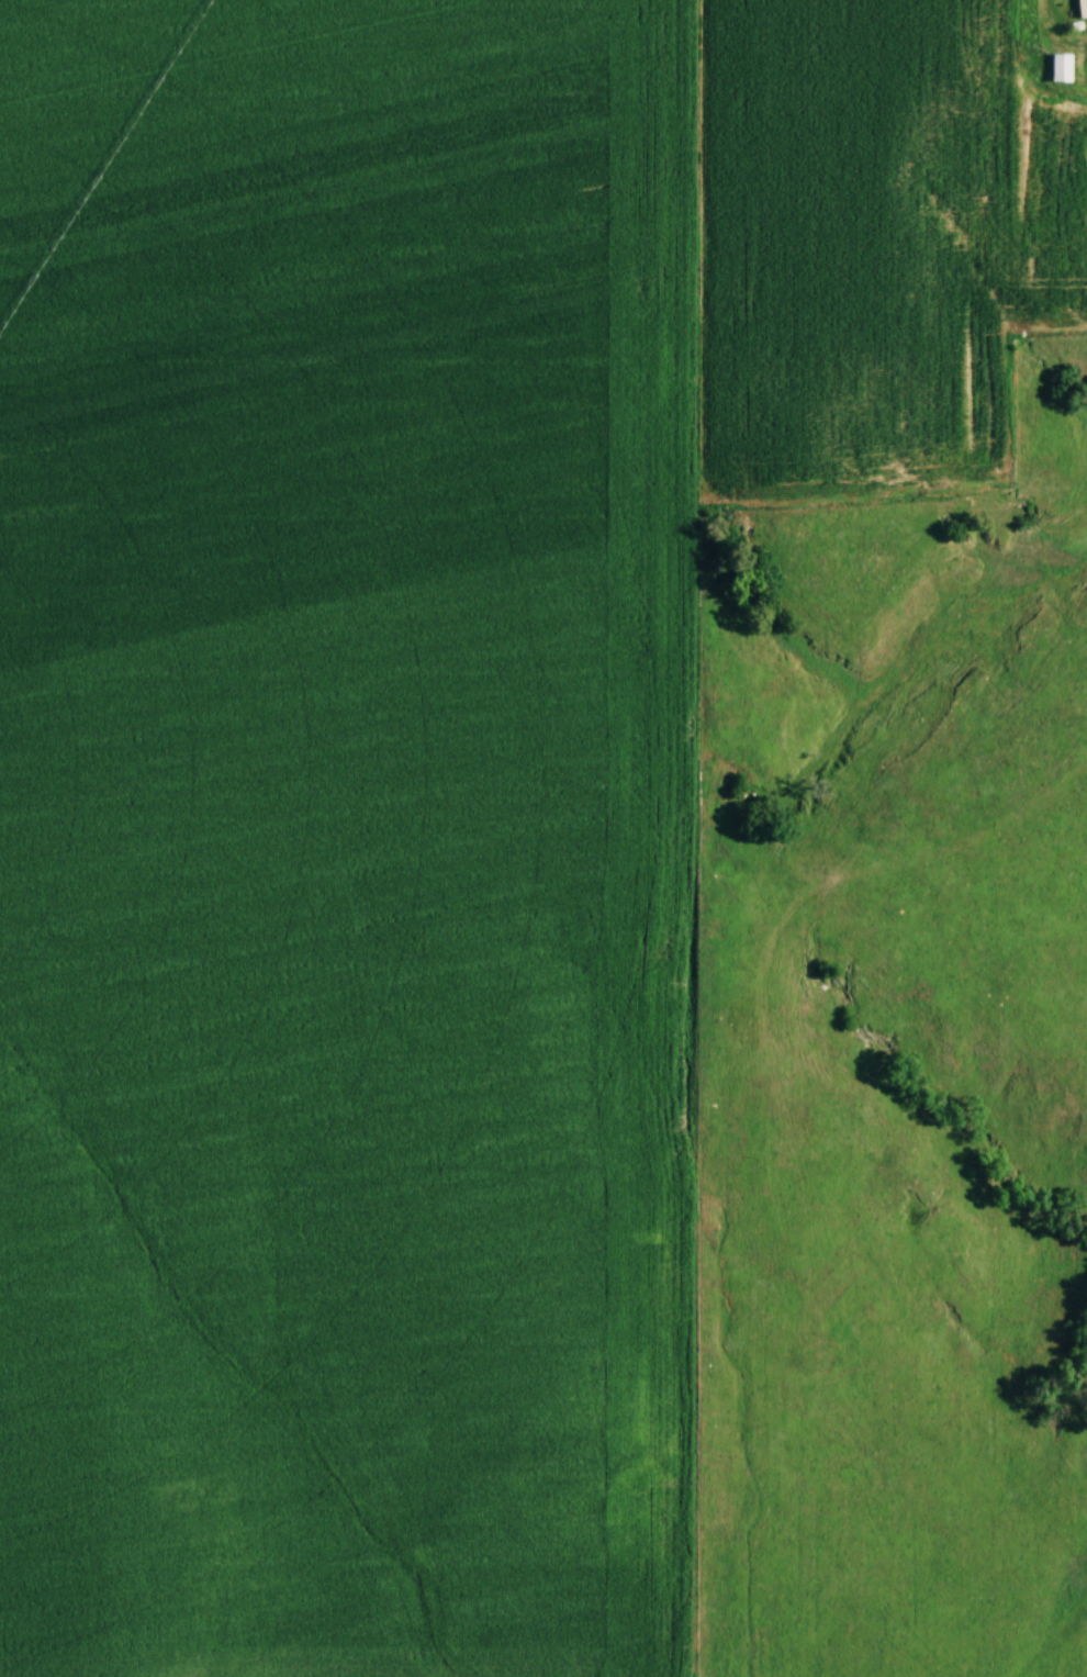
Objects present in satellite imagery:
building: (1082, 9)
building: (1062, 68)

